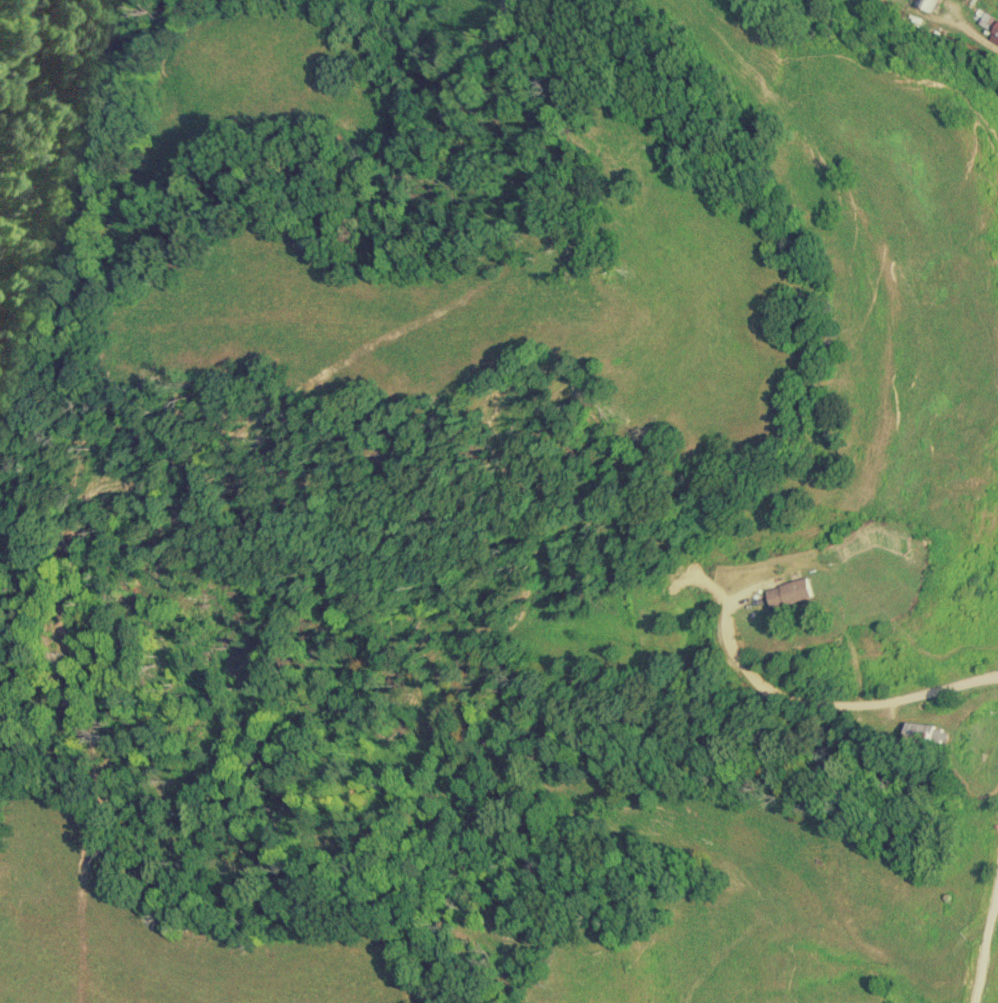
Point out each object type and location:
road: (819, 700)
road: (984, 935)

